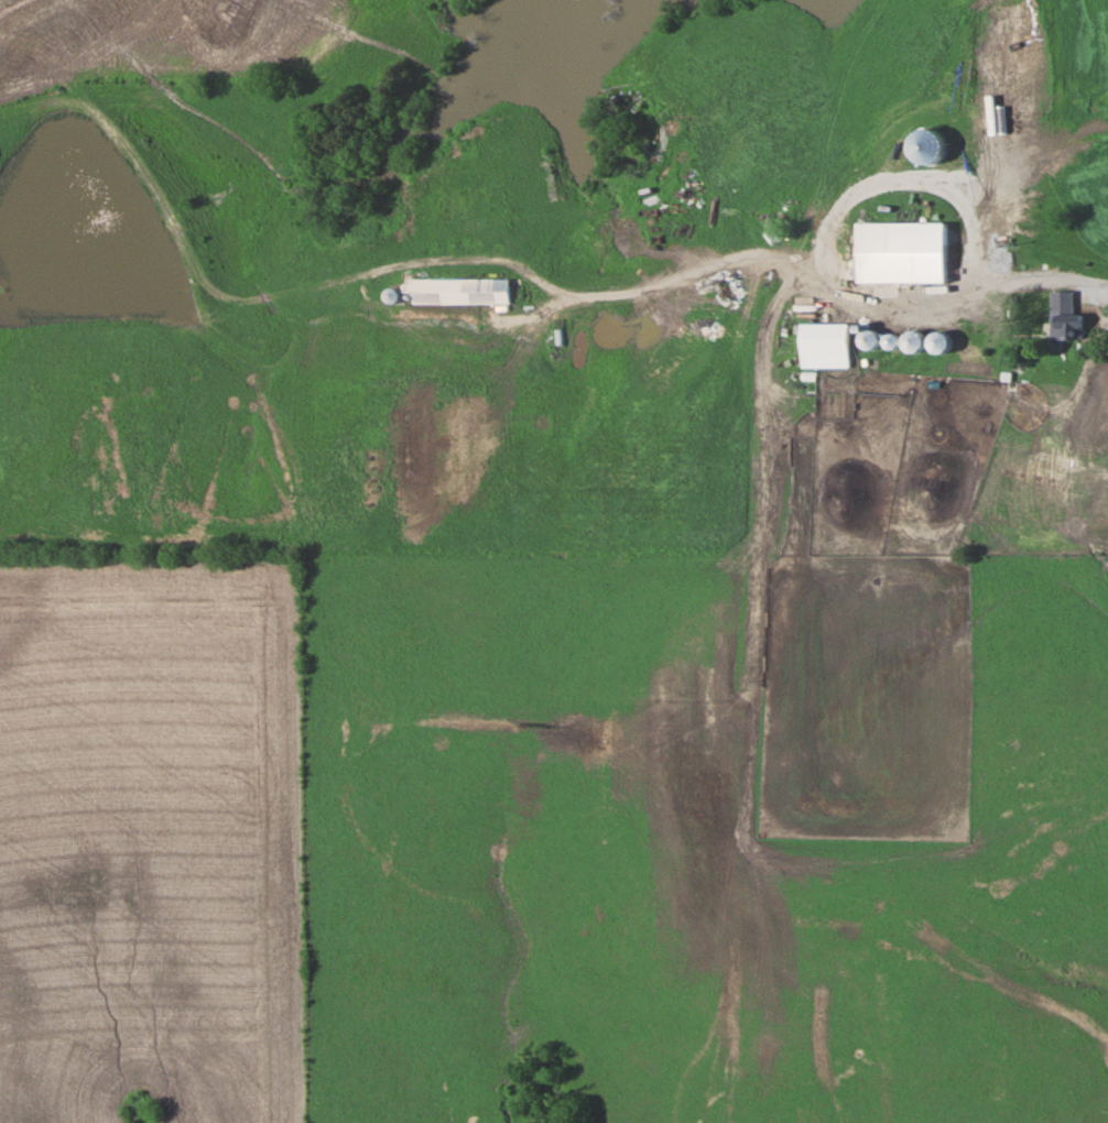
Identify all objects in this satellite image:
building: (895, 265)
road: (547, 285)
building: (457, 290)
building: (1063, 318)
building: (823, 338)
building: (868, 338)
building: (912, 340)
crop: (148, 840)

